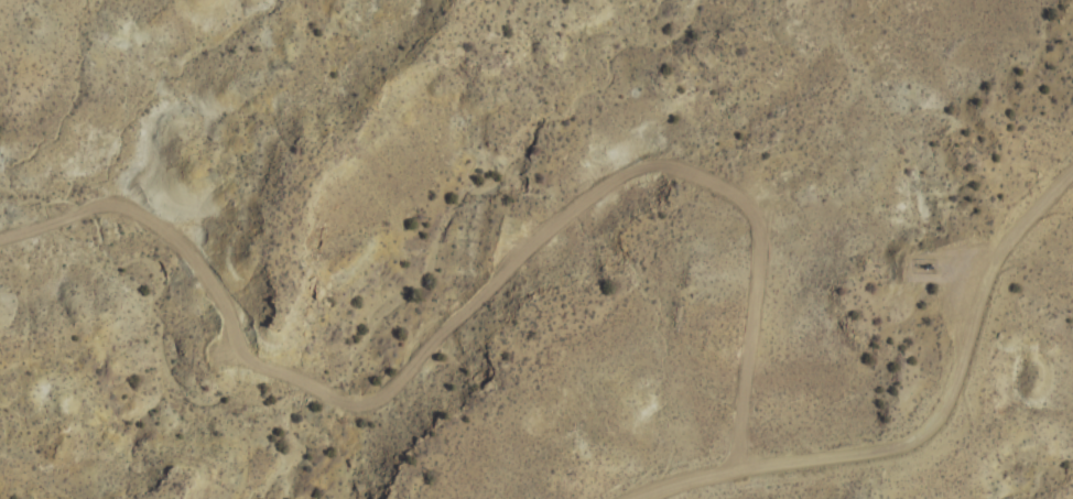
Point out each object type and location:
road: (922, 433)

